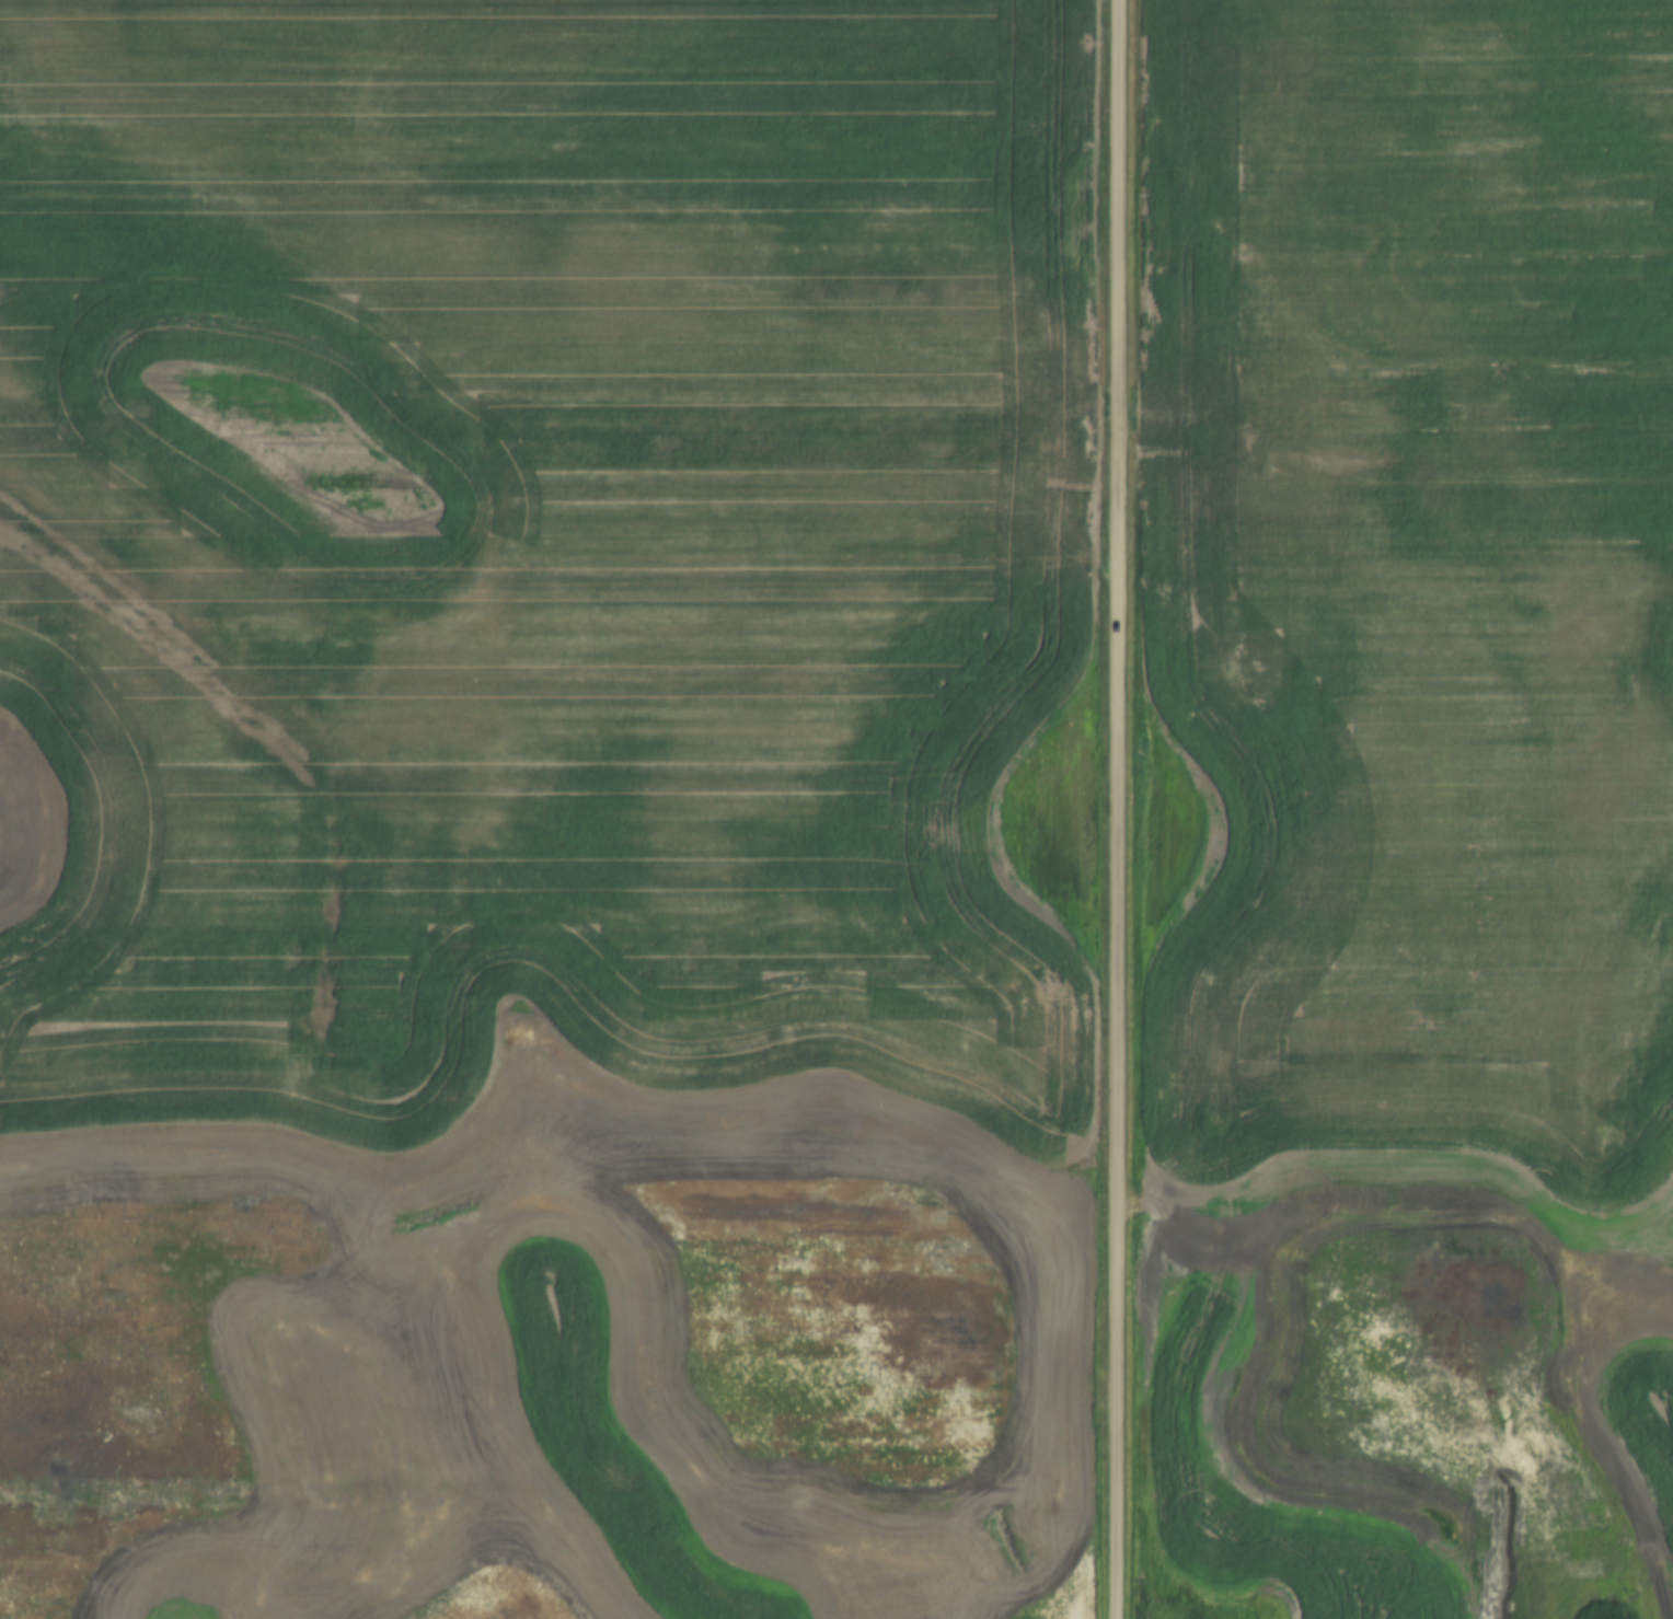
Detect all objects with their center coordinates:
road: (1123, 809)

